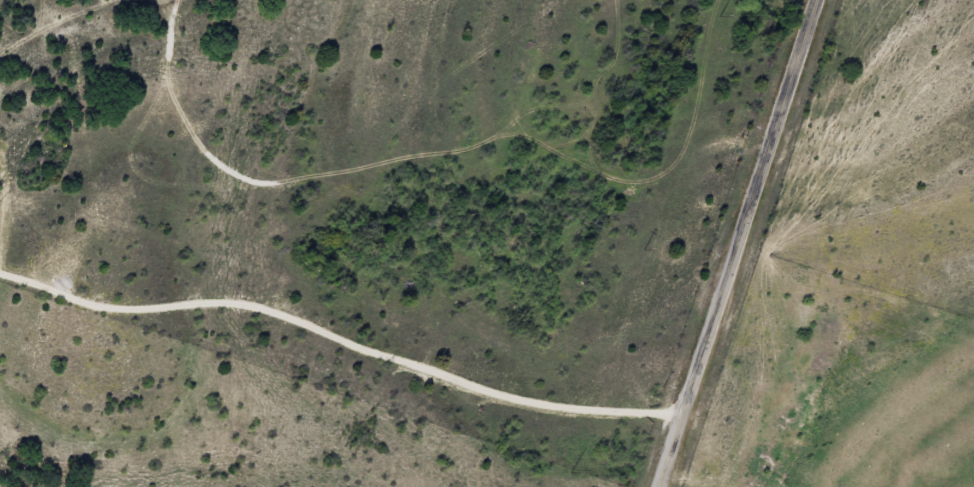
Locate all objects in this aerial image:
road: (736, 243)

